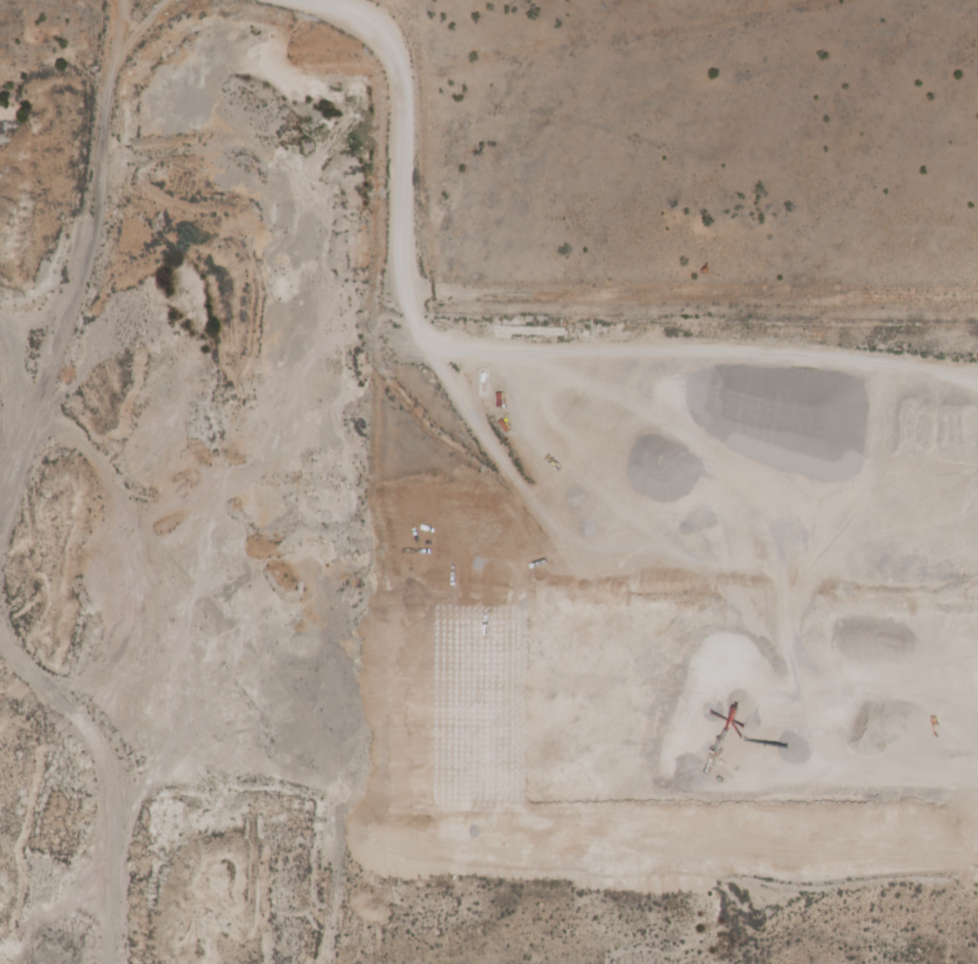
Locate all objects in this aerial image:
road: (270, 17)
road: (20, 186)
road: (246, 493)

